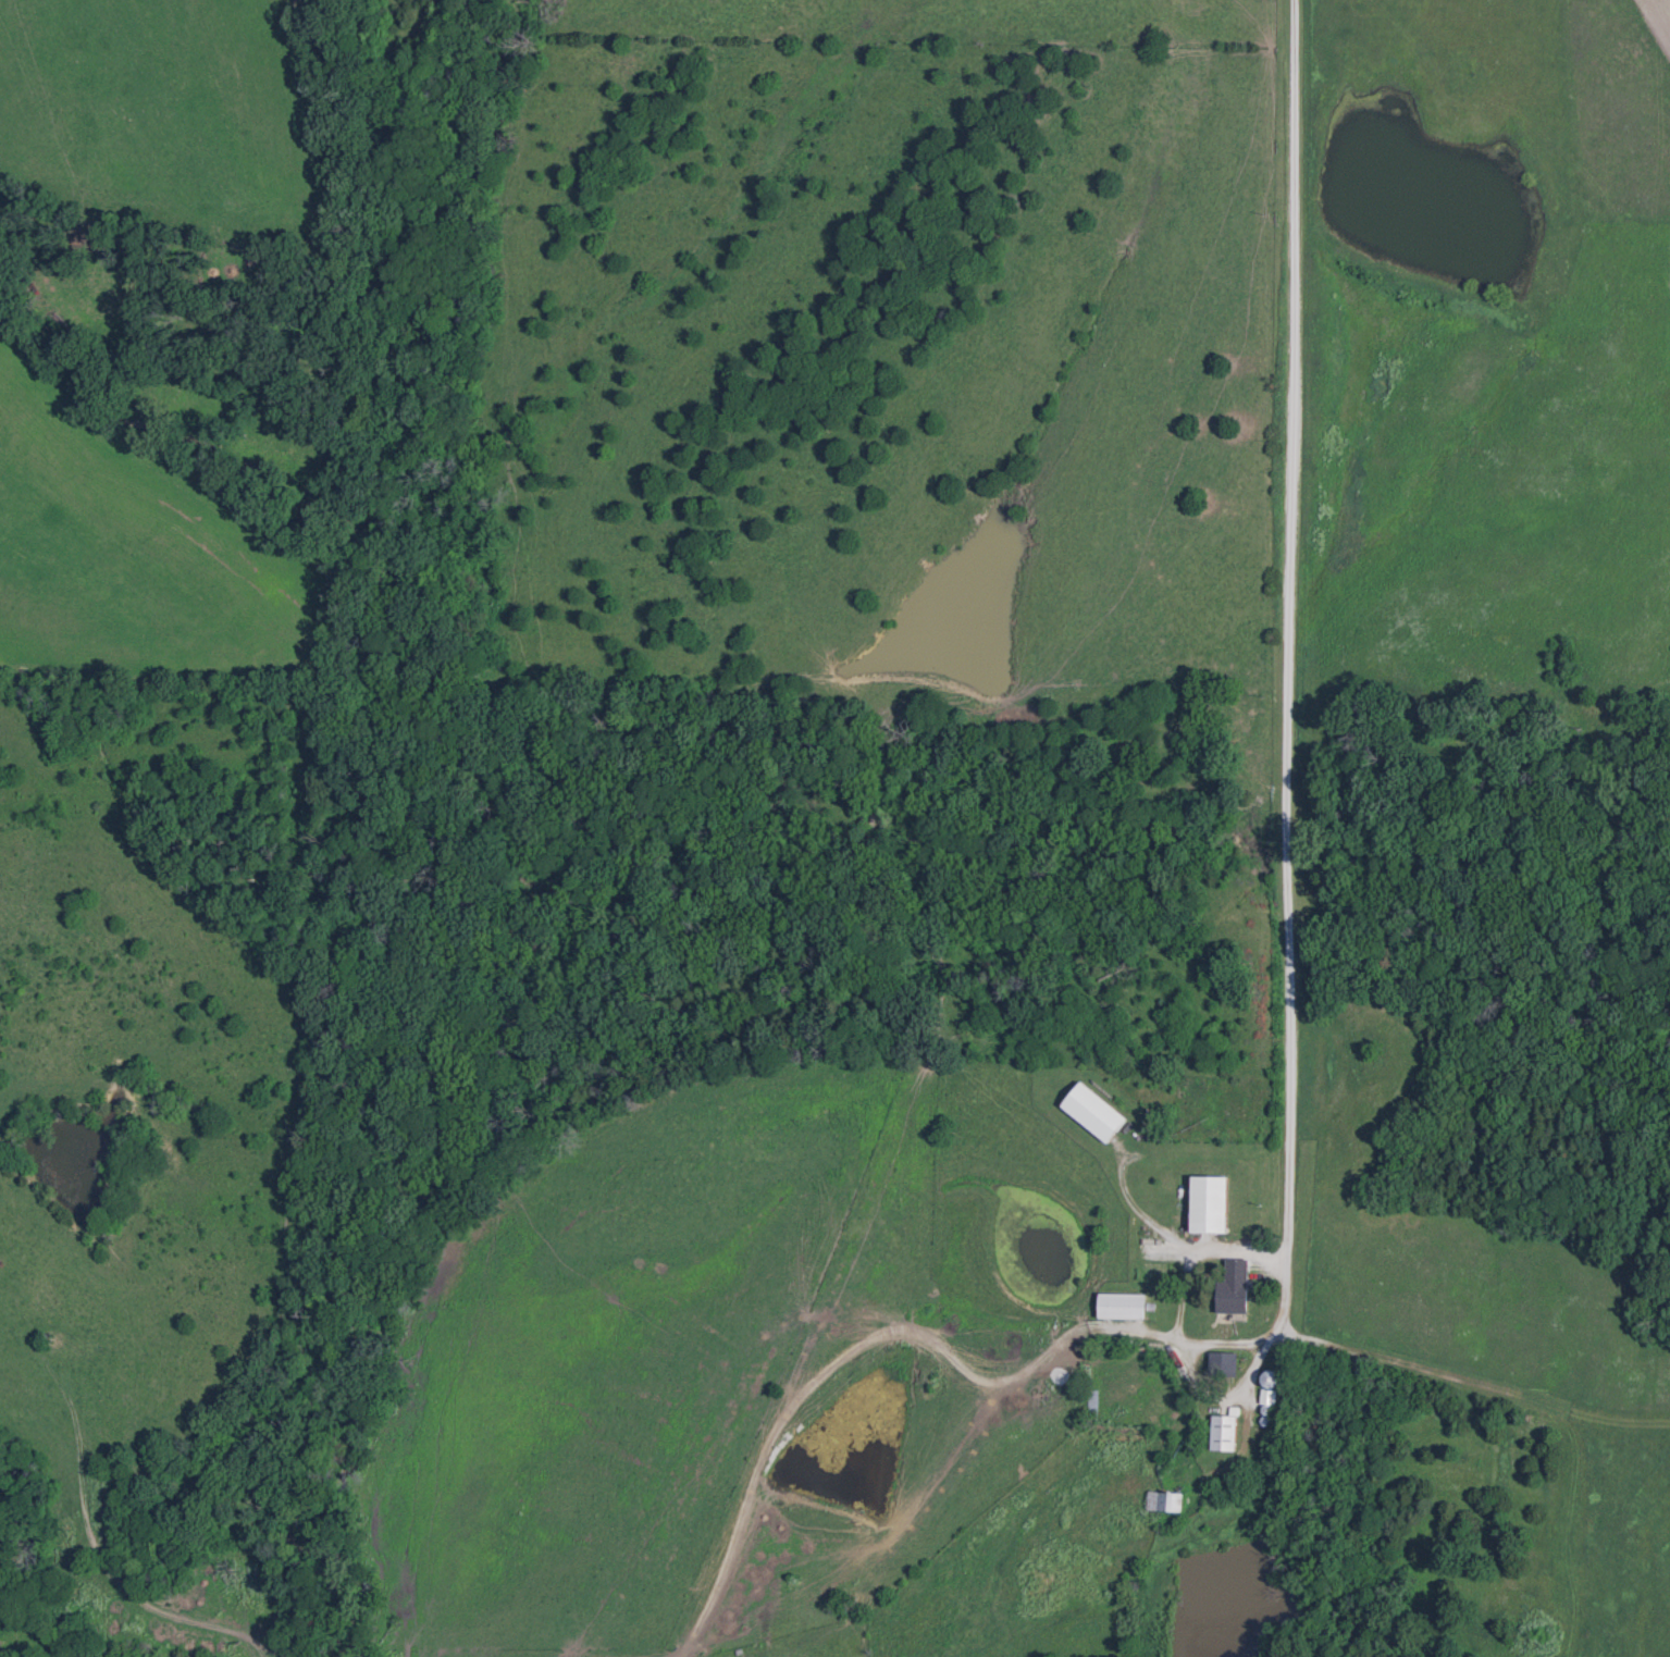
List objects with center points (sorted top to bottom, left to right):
road: (1287, 667)
building: (1209, 1203)
road: (1221, 1248)
building: (1232, 1296)
building: (1121, 1304)
building: (1222, 1363)
building: (1223, 1432)
building: (1163, 1500)

